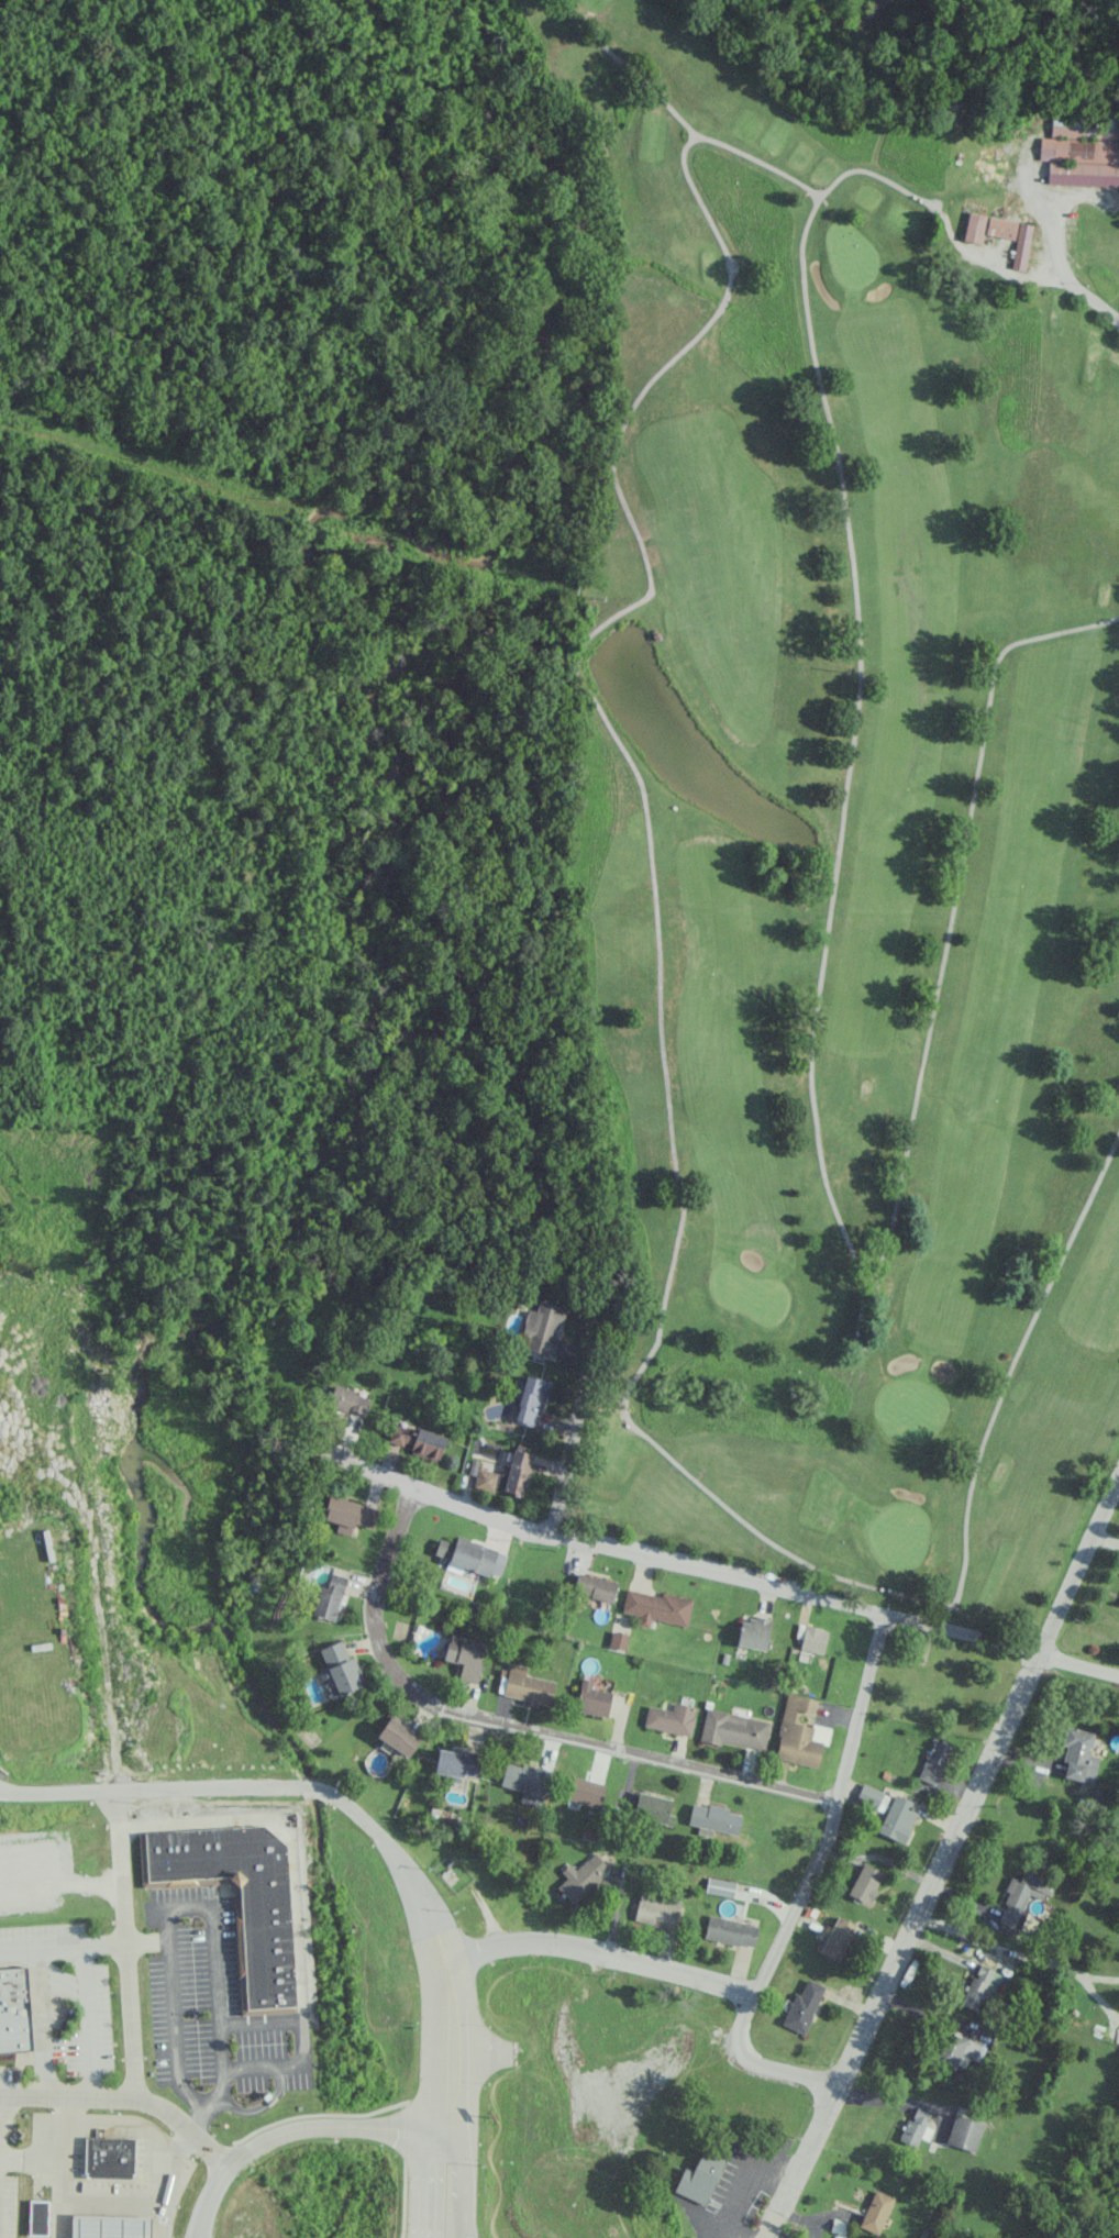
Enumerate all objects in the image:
building: (1082, 151)
building: (973, 228)
building: (1011, 236)
road: (1086, 293)
building: (542, 1328)
building: (530, 1399)
building: (346, 1400)
road: (572, 1431)
building: (416, 1440)
building: (517, 1471)
building: (488, 1480)
building: (347, 1514)
building: (472, 1555)
road: (1078, 1565)
road: (711, 1572)
building: (595, 1586)
building: (656, 1607)
building: (753, 1632)
building: (811, 1637)
building: (618, 1639)
building: (463, 1657)
building: (339, 1669)
building: (528, 1686)
building: (591, 1698)
building: (671, 1718)
road: (513, 1726)
building: (734, 1729)
building: (799, 1732)
building: (396, 1736)
building: (1079, 1754)
building: (933, 1761)
building: (457, 1763)
building: (525, 1780)
road: (163, 1790)
building: (585, 1791)
building: (868, 1795)
building: (652, 1807)
building: (713, 1817)
building: (897, 1818)
road: (397, 1859)
building: (580, 1876)
building: (864, 1883)
building: (720, 1886)
road: (805, 1887)
building: (237, 1906)
road: (173, 1909)
building: (655, 1909)
building: (730, 1930)
building: (837, 1938)
road: (145, 1940)
road: (62, 1943)
road: (125, 1945)
road: (902, 1947)
road: (597, 1956)
building: (980, 1988)
building: (801, 2006)
building: (13, 2009)
road: (87, 2019)
road: (40, 2020)
road: (448, 2038)
building: (959, 2050)
road: (67, 2097)
road: (893, 2099)
road: (185, 2126)
building: (913, 2126)
road: (291, 2130)
building: (965, 2132)
building: (109, 2157)
road: (63, 2159)
building: (699, 2176)
road: (745, 2180)
road: (430, 2181)
road: (459, 2181)
road: (165, 2182)
road: (62, 2198)
road: (109, 2201)
building: (876, 2212)
building: (37, 2217)
building: (110, 2226)

